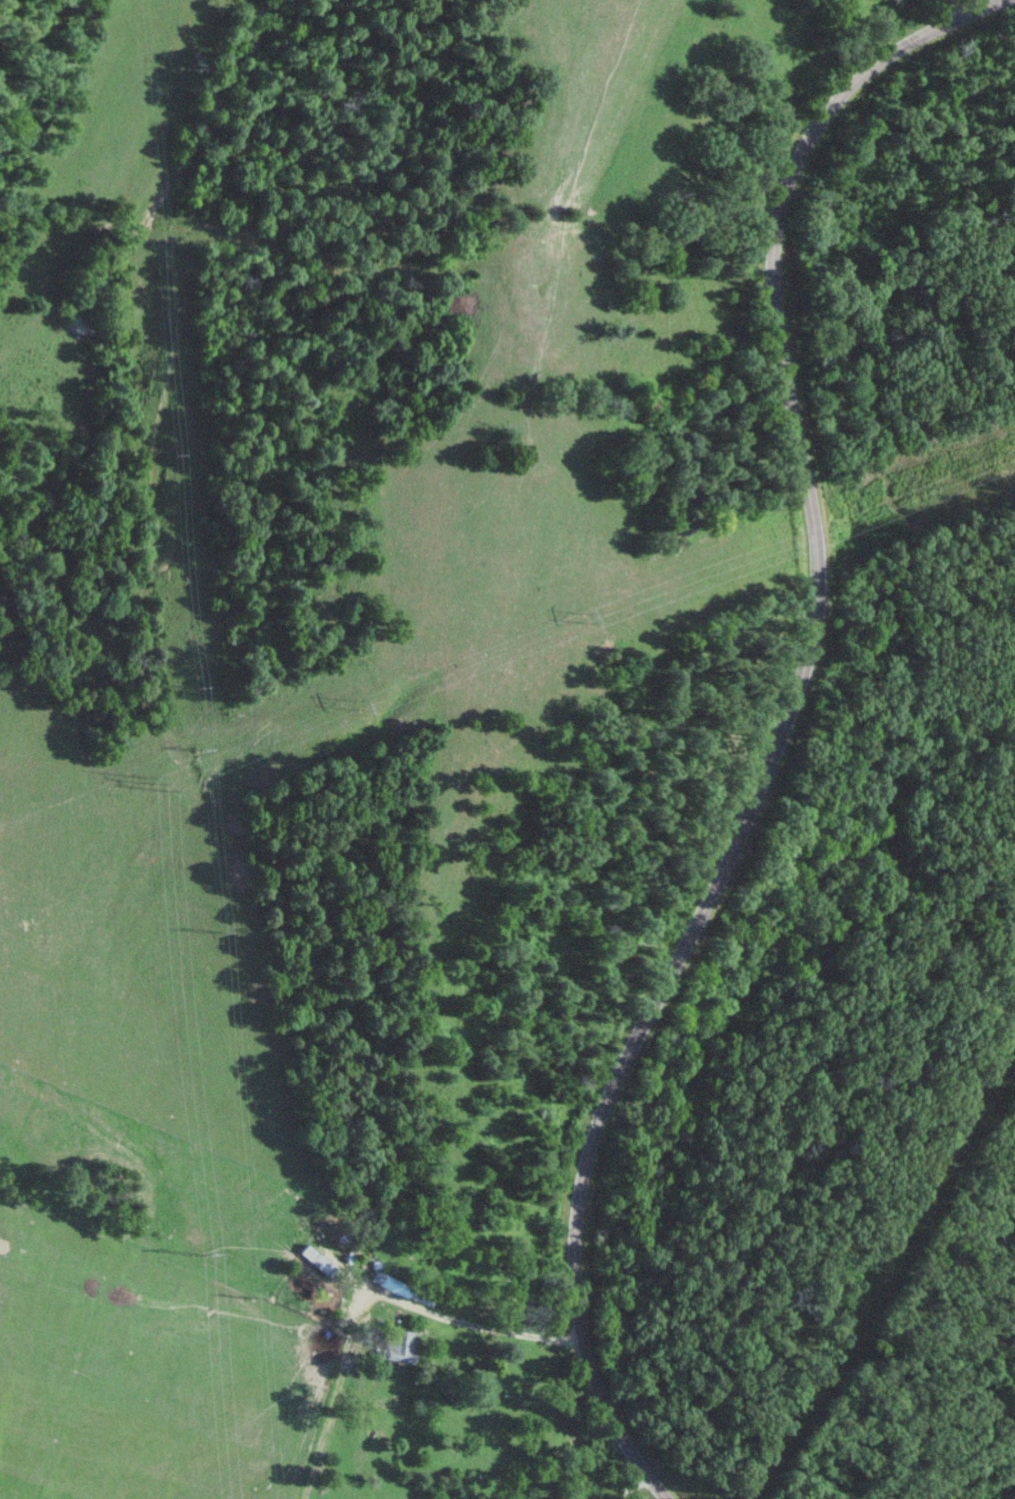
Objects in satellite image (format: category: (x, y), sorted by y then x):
road: (956, 7)
road: (783, 725)
park: (86, 1228)
building: (401, 1345)
building: (392, 1407)
road: (627, 1486)

